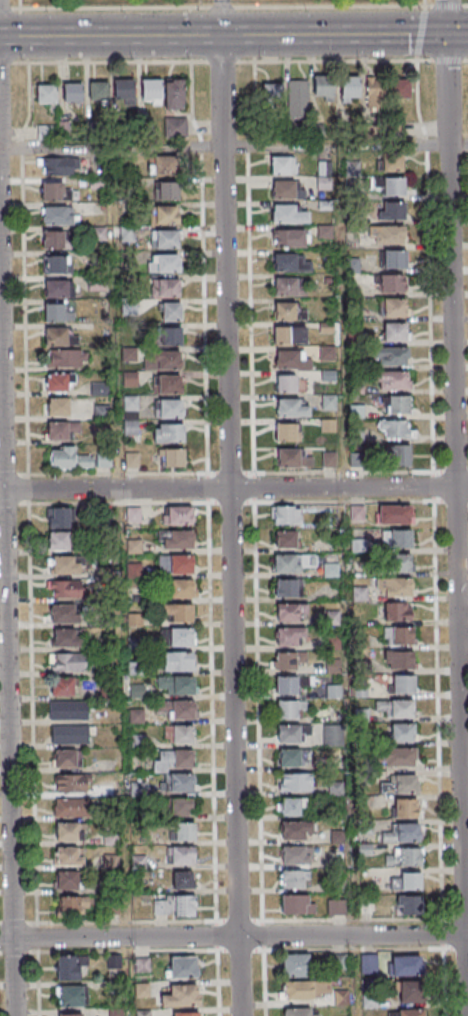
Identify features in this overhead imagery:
road: (18, 4)
road: (234, 7)
road: (220, 17)
road: (420, 32)
traffic signals: (446, 34)
road: (344, 35)
road: (110, 36)
road: (448, 58)
road: (467, 58)
road: (335, 60)
road: (110, 61)
road: (213, 61)
road: (230, 61)
road: (7, 62)
building: (400, 87)
building: (123, 88)
building: (323, 88)
building: (349, 89)
building: (98, 90)
building: (151, 90)
building: (71, 92)
building: (375, 92)
building: (46, 93)
building: (174, 93)
building: (272, 94)
building: (298, 98)
building: (176, 127)
road: (234, 148)
building: (392, 162)
building: (163, 165)
building: (283, 165)
building: (57, 166)
building: (324, 174)
building: (393, 187)
building: (288, 189)
building: (54, 191)
building: (168, 191)
building: (390, 211)
building: (288, 213)
building: (167, 215)
building: (57, 216)
building: (128, 234)
building: (389, 235)
building: (289, 237)
building: (164, 239)
building: (52, 240)
building: (393, 260)
building: (168, 263)
building: (291, 263)
building: (55, 264)
road: (430, 264)
road: (24, 267)
building: (94, 284)
building: (390, 284)
building: (289, 286)
building: (167, 287)
building: (55, 288)
building: (393, 307)
building: (171, 311)
building: (288, 311)
building: (56, 312)
building: (396, 332)
building: (290, 334)
building: (59, 336)
building: (171, 336)
building: (326, 352)
road: (251, 353)
building: (390, 356)
building: (66, 358)
building: (292, 359)
building: (162, 360)
building: (130, 379)
building: (390, 381)
building: (58, 382)
building: (167, 384)
building: (286, 384)
building: (99, 388)
building: (57, 406)
building: (396, 406)
building: (168, 408)
building: (292, 408)
building: (130, 415)
building: (100, 419)
building: (61, 429)
building: (394, 430)
building: (168, 432)
building: (286, 432)
building: (397, 457)
building: (171, 458)
building: (292, 458)
building: (69, 459)
building: (103, 460)
building: (133, 460)
road: (141, 473)
road: (28, 488)
road: (233, 488)
road: (455, 508)
building: (393, 514)
building: (133, 515)
building: (178, 515)
building: (285, 515)
building: (58, 519)
road: (229, 526)
building: (397, 537)
building: (175, 538)
building: (286, 539)
building: (59, 542)
building: (175, 563)
building: (285, 563)
building: (400, 563)
building: (64, 566)
building: (331, 570)
building: (397, 586)
building: (288, 587)
building: (66, 588)
building: (180, 589)
building: (290, 611)
building: (398, 611)
building: (63, 613)
building: (178, 613)
building: (288, 635)
building: (398, 635)
building: (65, 638)
building: (180, 638)
building: (288, 660)
building: (398, 660)
building: (68, 662)
building: (178, 662)
road: (7, 666)
building: (333, 667)
building: (290, 683)
building: (401, 683)
building: (176, 684)
building: (62, 686)
building: (333, 691)
building: (289, 707)
building: (396, 707)
building: (176, 708)
building: (70, 709)
road: (32, 712)
building: (136, 717)
building: (402, 732)
building: (70, 733)
building: (292, 733)
building: (332, 733)
building: (178, 735)
building: (293, 756)
building: (177, 757)
building: (396, 757)
building: (66, 758)
building: (295, 782)
building: (70, 783)
building: (404, 783)
building: (179, 784)
building: (292, 805)
building: (71, 806)
building: (180, 807)
building: (405, 807)
building: (295, 829)
building: (68, 831)
building: (184, 831)
building: (402, 833)
building: (296, 854)
building: (180, 855)
building: (67, 856)
building: (403, 857)
building: (293, 878)
building: (66, 880)
building: (182, 880)
building: (406, 881)
building: (296, 904)
building: (72, 905)
building: (408, 905)
building: (183, 906)
building: (336, 907)
building: (366, 907)
road: (18, 922)
road: (233, 937)
road: (33, 952)
road: (441, 954)
building: (368, 963)
building: (142, 965)
building: (295, 965)
building: (405, 965)
building: (69, 966)
building: (183, 966)
building: (298, 990)
building: (410, 991)
building: (70, 995)
building: (180, 995)
building: (341, 997)
building: (368, 1002)
building: (299, 1012)
building: (406, 1012)
building: (186, 1014)
building: (72, 1015)

